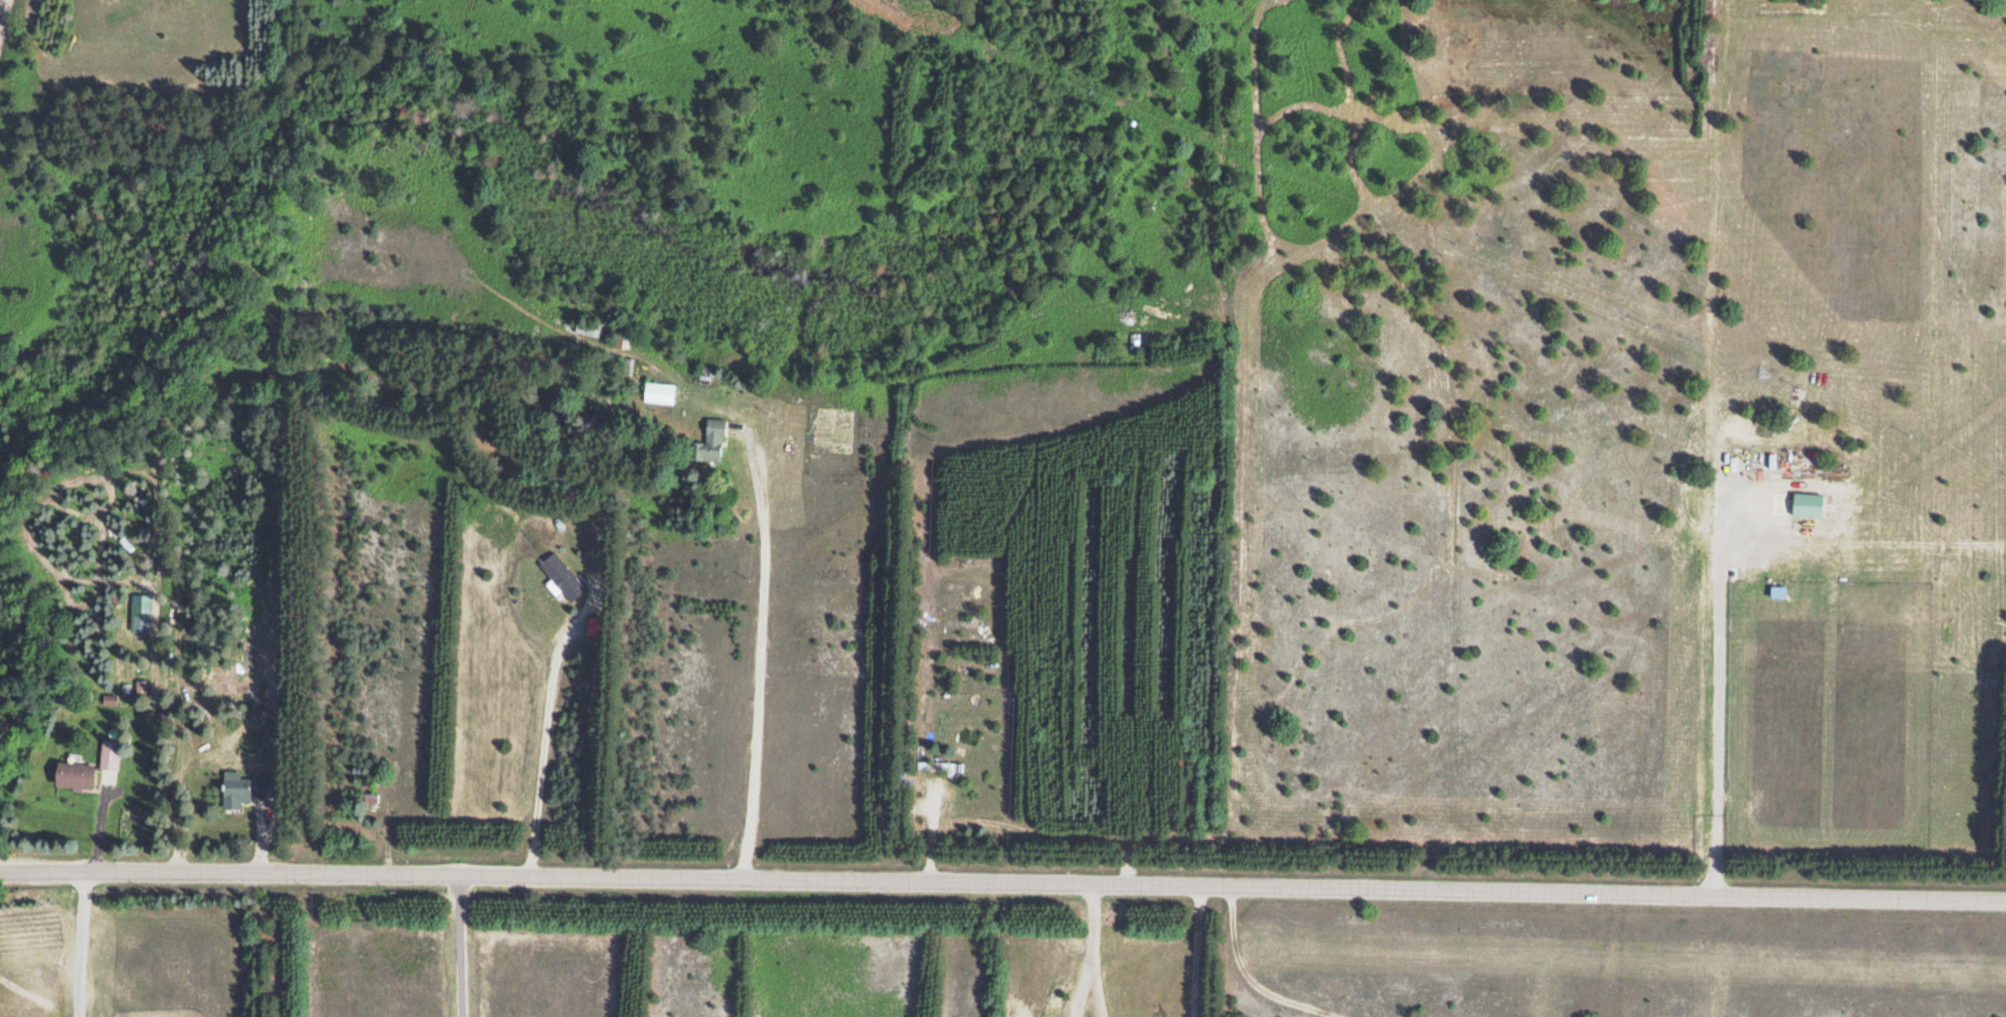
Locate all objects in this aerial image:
railway: (1, 6)
building: (587, 327)
building: (658, 391)
building: (708, 441)
building: (1806, 503)
building: (560, 576)
building: (1777, 590)
building: (136, 619)
road: (743, 671)
building: (108, 753)
building: (938, 765)
building: (74, 775)
building: (235, 789)
road: (1003, 882)

